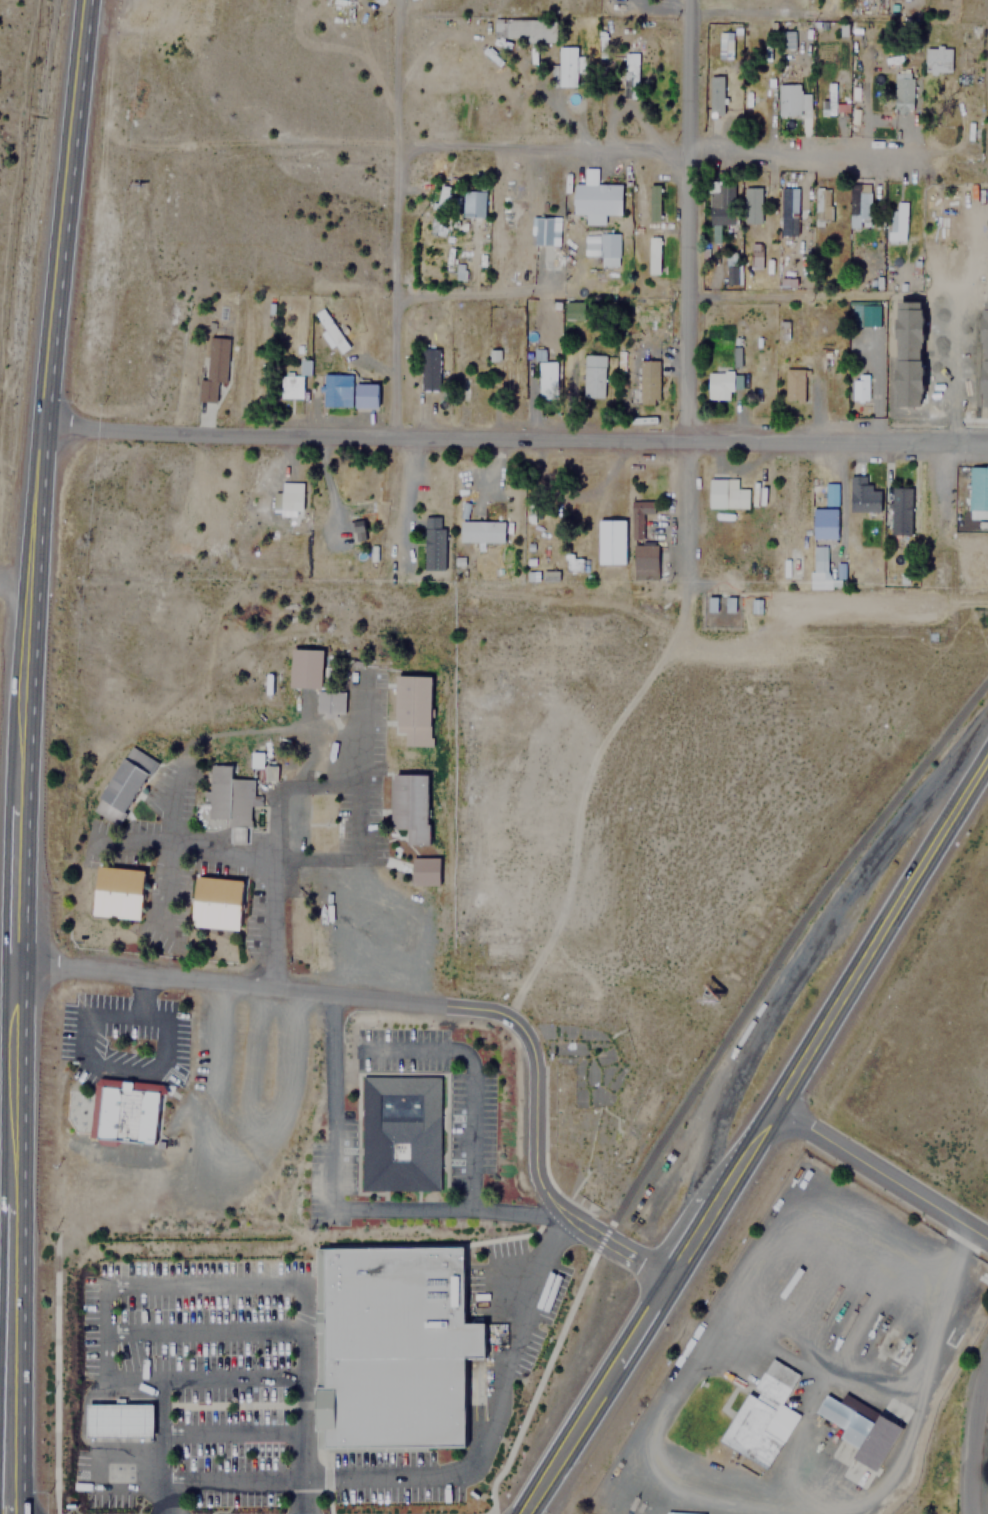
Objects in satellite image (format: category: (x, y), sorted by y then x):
building: (161, 10)
building: (525, 29)
building: (785, 39)
building: (724, 44)
building: (936, 60)
building: (567, 67)
road: (397, 73)
building: (630, 75)
building: (902, 84)
building: (715, 95)
building: (788, 98)
building: (826, 98)
road: (655, 147)
building: (441, 198)
building: (597, 198)
building: (653, 202)
building: (473, 203)
building: (857, 205)
building: (820, 206)
building: (751, 207)
building: (720, 208)
road: (62, 211)
building: (784, 211)
building: (896, 222)
building: (544, 229)
building: (653, 252)
building: (609, 255)
building: (754, 255)
building: (856, 256)
building: (729, 267)
road: (394, 290)
road: (685, 291)
road: (475, 292)
road: (770, 296)
building: (573, 310)
building: (866, 314)
building: (782, 328)
building: (329, 329)
building: (917, 335)
building: (735, 354)
building: (540, 355)
building: (429, 362)
building: (213, 365)
building: (305, 367)
building: (593, 375)
building: (547, 379)
building: (507, 380)
building: (648, 382)
building: (793, 383)
building: (719, 384)
building: (291, 386)
building: (336, 388)
building: (858, 389)
building: (366, 393)
road: (514, 435)
building: (977, 487)
road: (409, 493)
building: (732, 494)
building: (833, 494)
building: (862, 496)
building: (287, 501)
building: (645, 506)
building: (900, 510)
building: (824, 523)
building: (359, 530)
building: (482, 530)
building: (610, 541)
building: (434, 542)
building: (645, 560)
building: (819, 571)
road: (14, 580)
road: (27, 598)
building: (714, 604)
building: (731, 605)
building: (757, 606)
building: (305, 667)
building: (330, 701)
building: (413, 708)
building: (258, 760)
building: (272, 773)
building: (123, 785)
building: (228, 801)
building: (410, 805)
road: (17, 868)
building: (425, 871)
building: (118, 892)
building: (217, 902)
road: (435, 1002)
road: (14, 1086)
building: (125, 1110)
building: (401, 1132)
road: (758, 1142)
road: (883, 1175)
road: (104, 1329)
road: (201, 1330)
road: (12, 1337)
building: (394, 1347)
road: (298, 1399)
building: (763, 1415)
building: (119, 1420)
gas station: (119, 1420)
building: (846, 1420)
road: (230, 1431)
road: (971, 1434)
road: (160, 1446)
road: (6, 1471)
road: (450, 1474)
road: (20, 1488)
road: (6, 1502)
road: (25, 1509)

